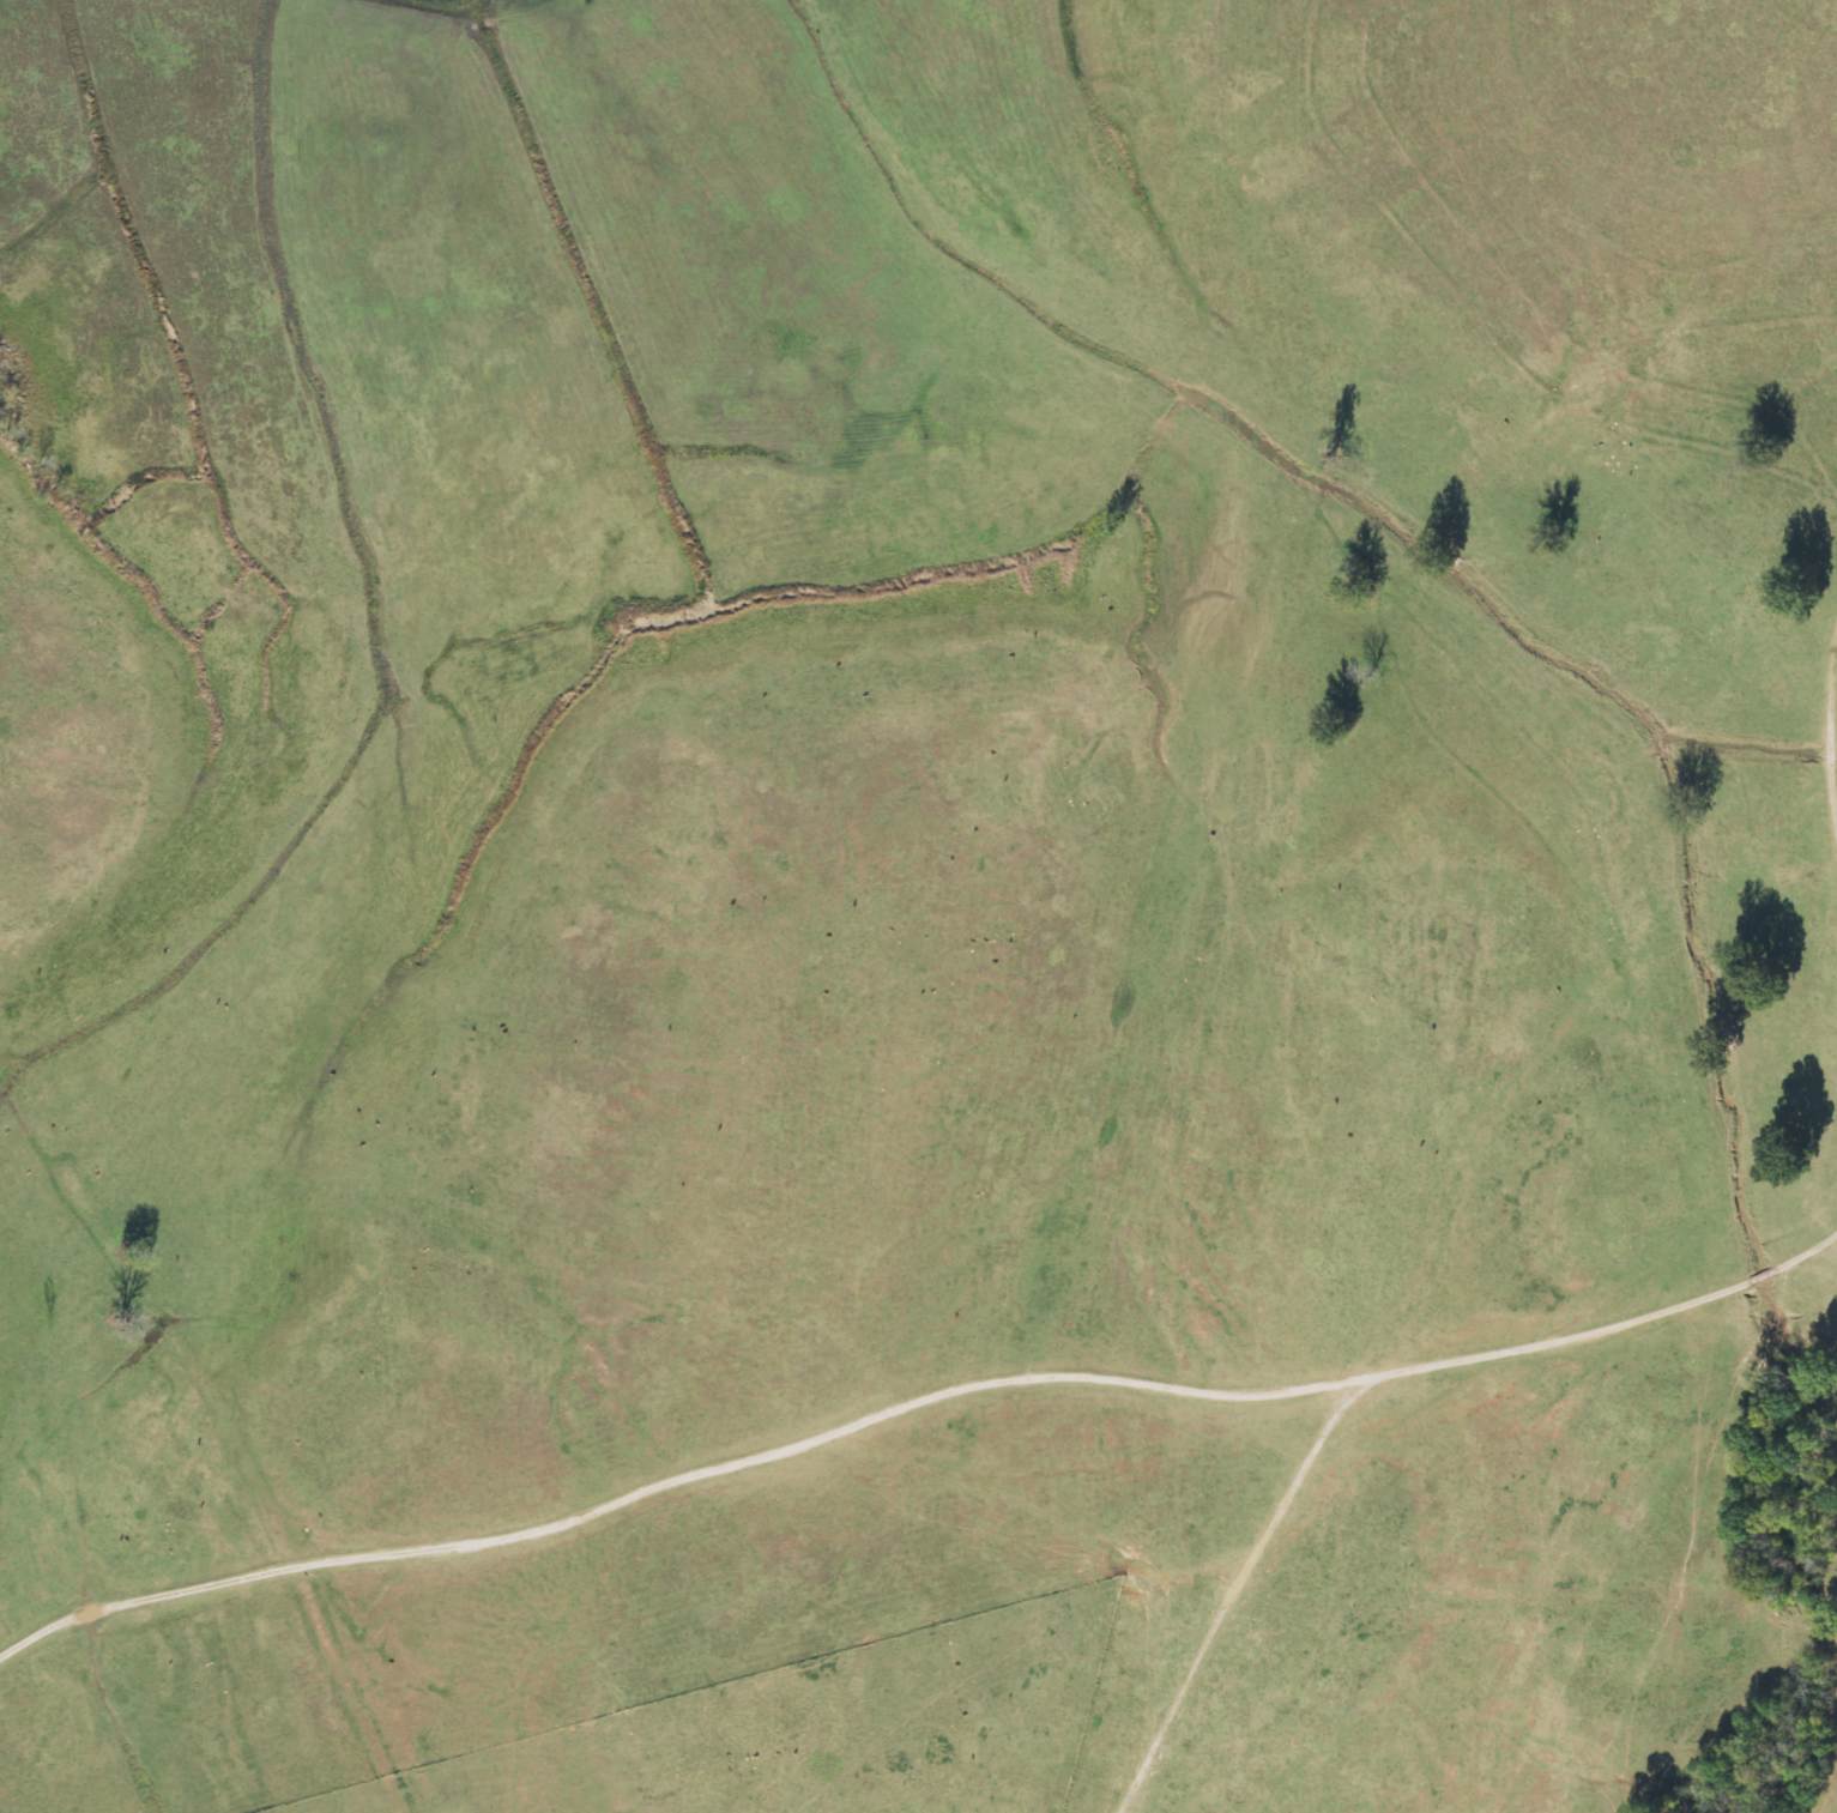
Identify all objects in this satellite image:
road: (907, 1392)

